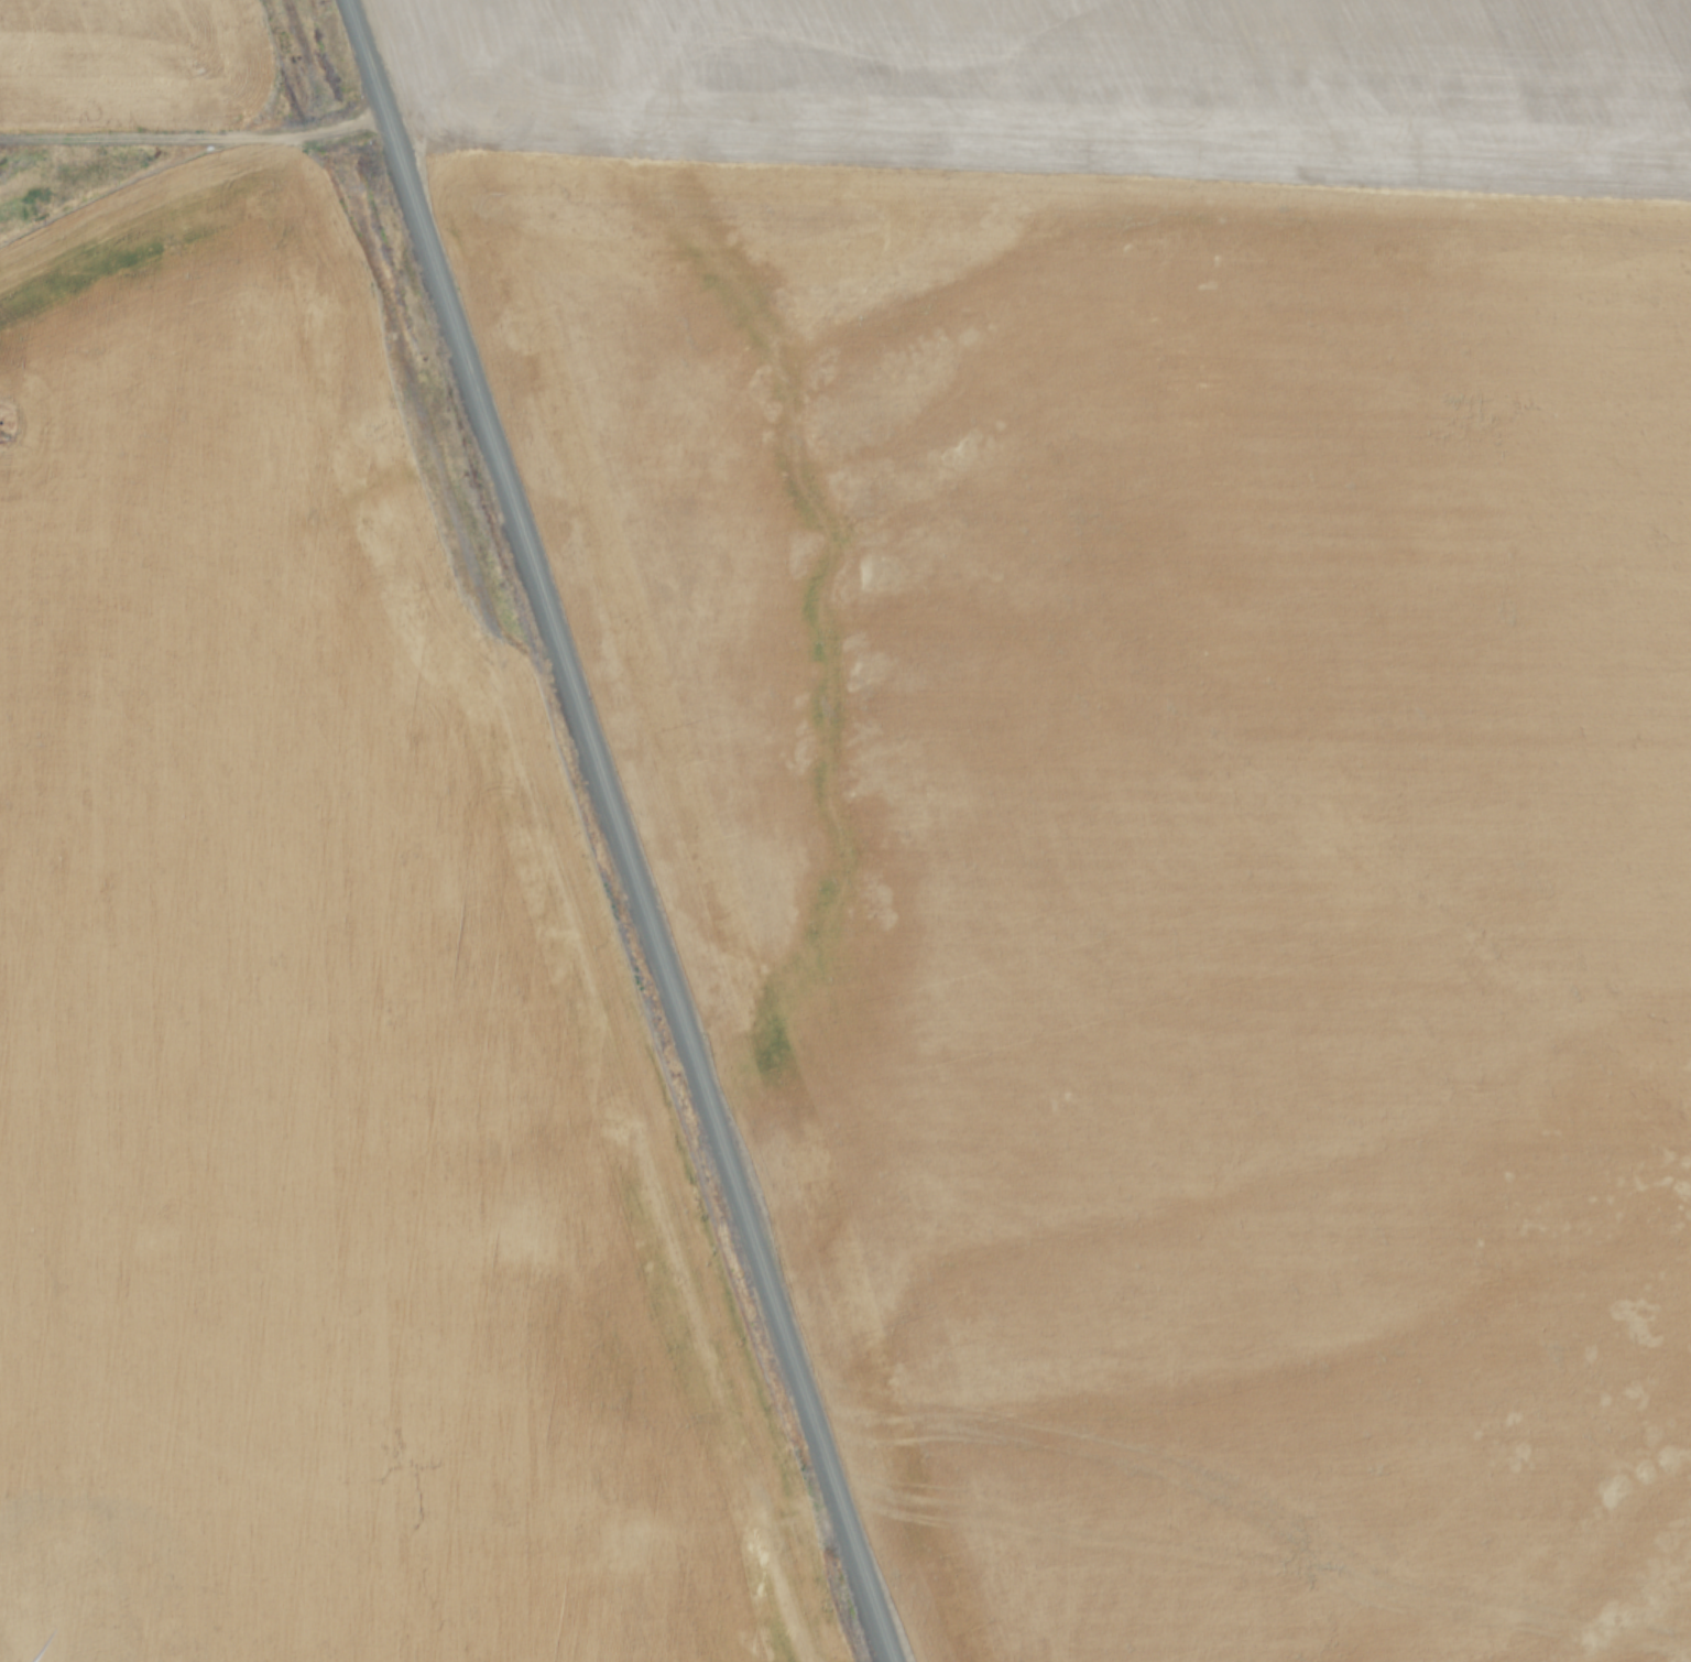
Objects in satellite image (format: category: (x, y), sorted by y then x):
road: (192, 137)
road: (610, 833)

